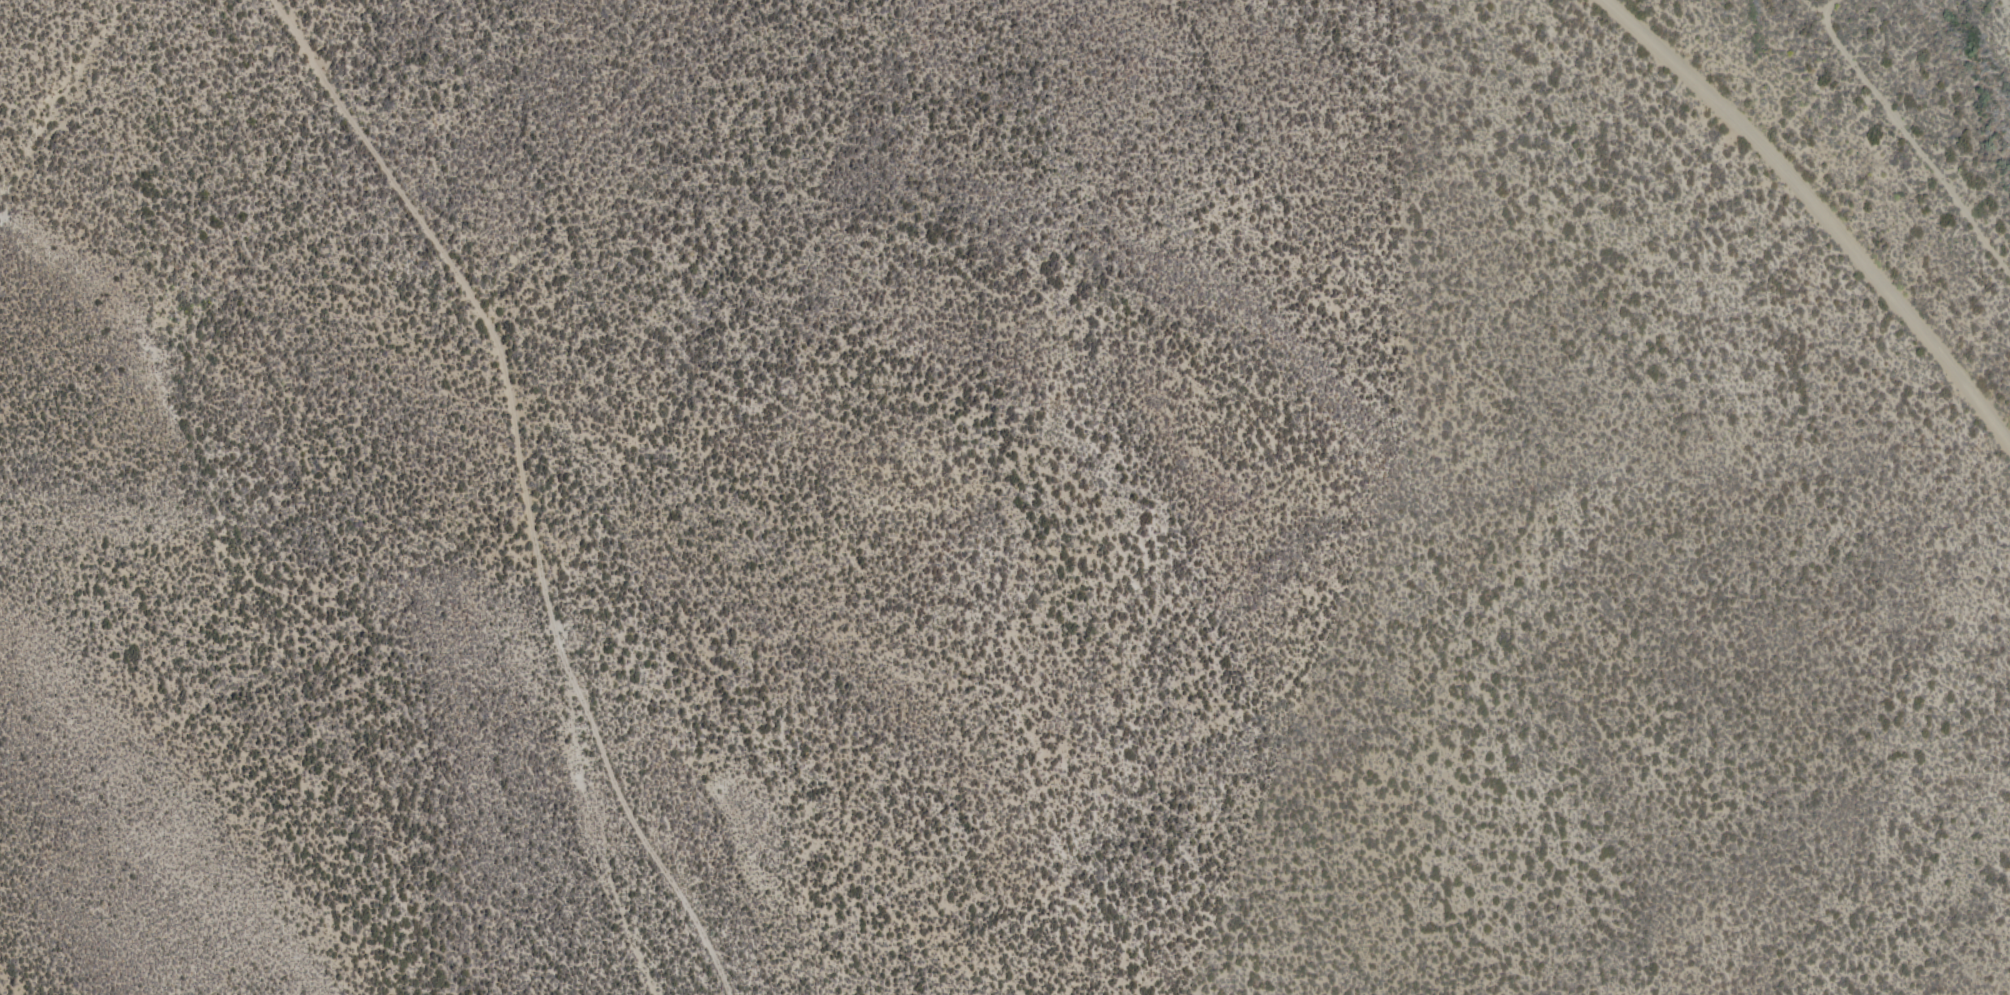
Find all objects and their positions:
road: (1907, 141)
road: (1817, 213)
road: (521, 484)

